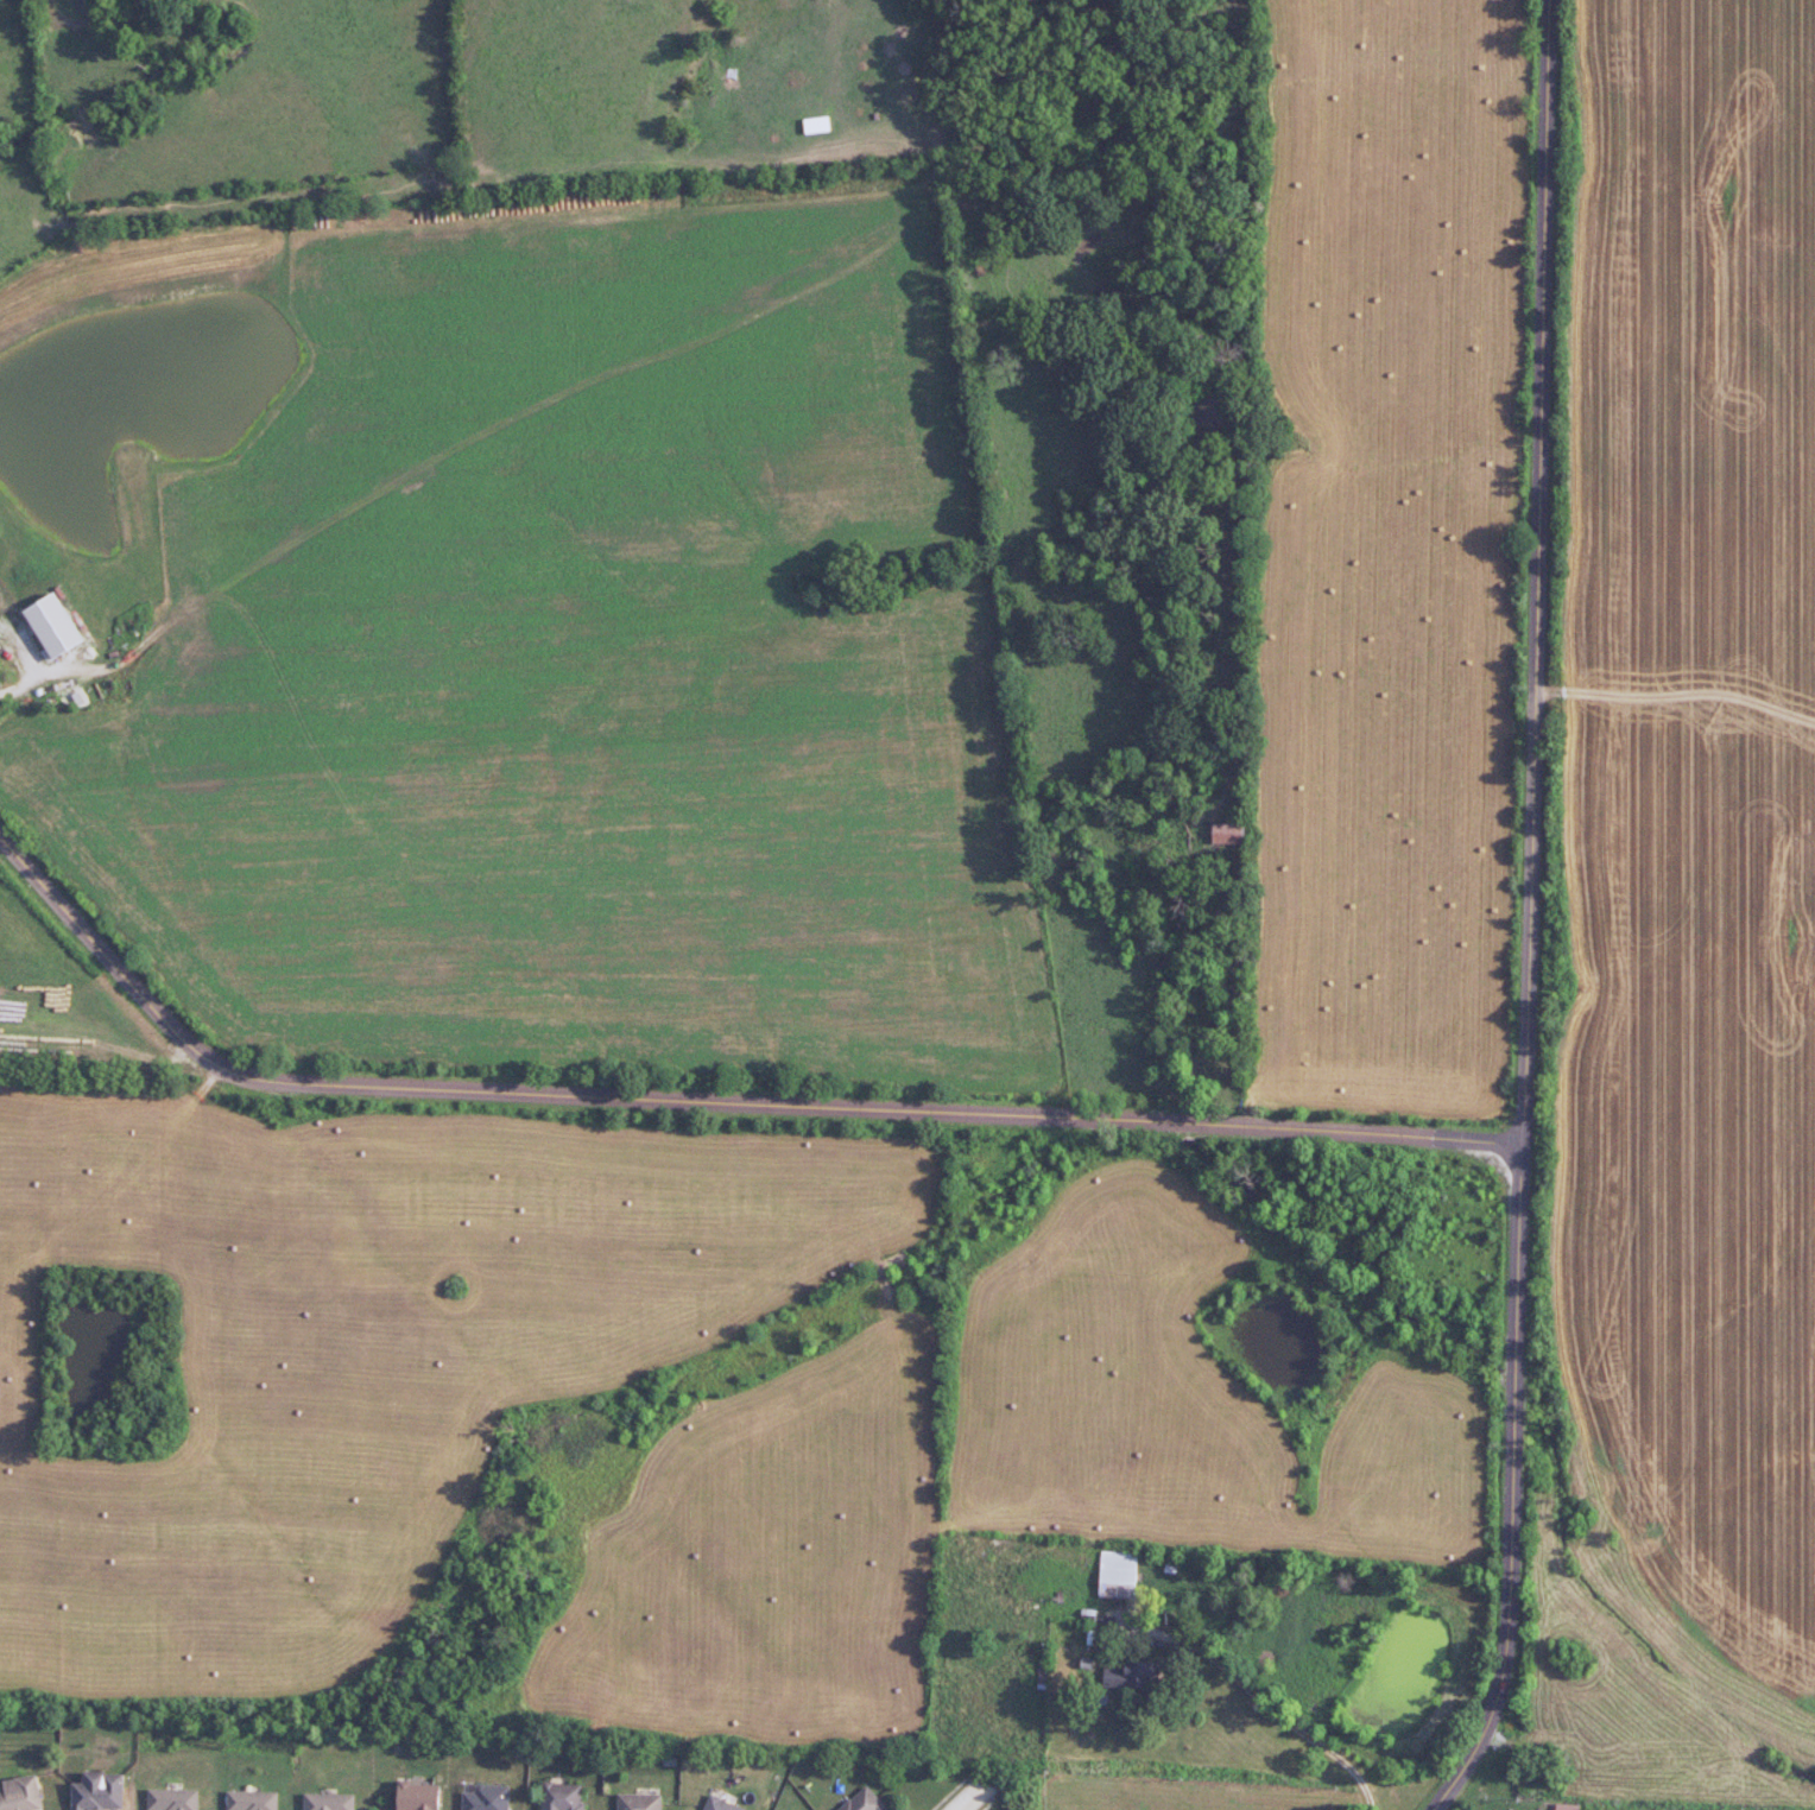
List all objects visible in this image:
road: (1529, 913)
road: (710, 1103)
building: (1115, 1575)
building: (1120, 1675)
road: (1267, 1703)
building: (91, 1791)
building: (17, 1793)
building: (410, 1796)
building: (558, 1797)
building: (482, 1798)
building: (167, 1799)
road: (968, 1799)
building: (247, 1800)
building: (323, 1802)
building: (634, 1802)
building: (859, 1802)
building: (716, 1805)
building: (1562, 1809)

